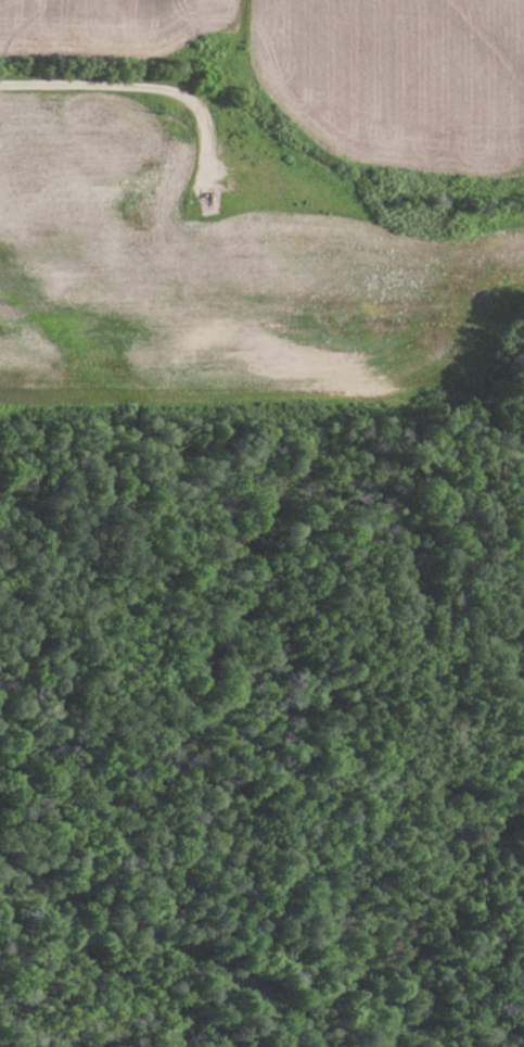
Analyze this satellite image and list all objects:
petroleum well: (212, 195)

